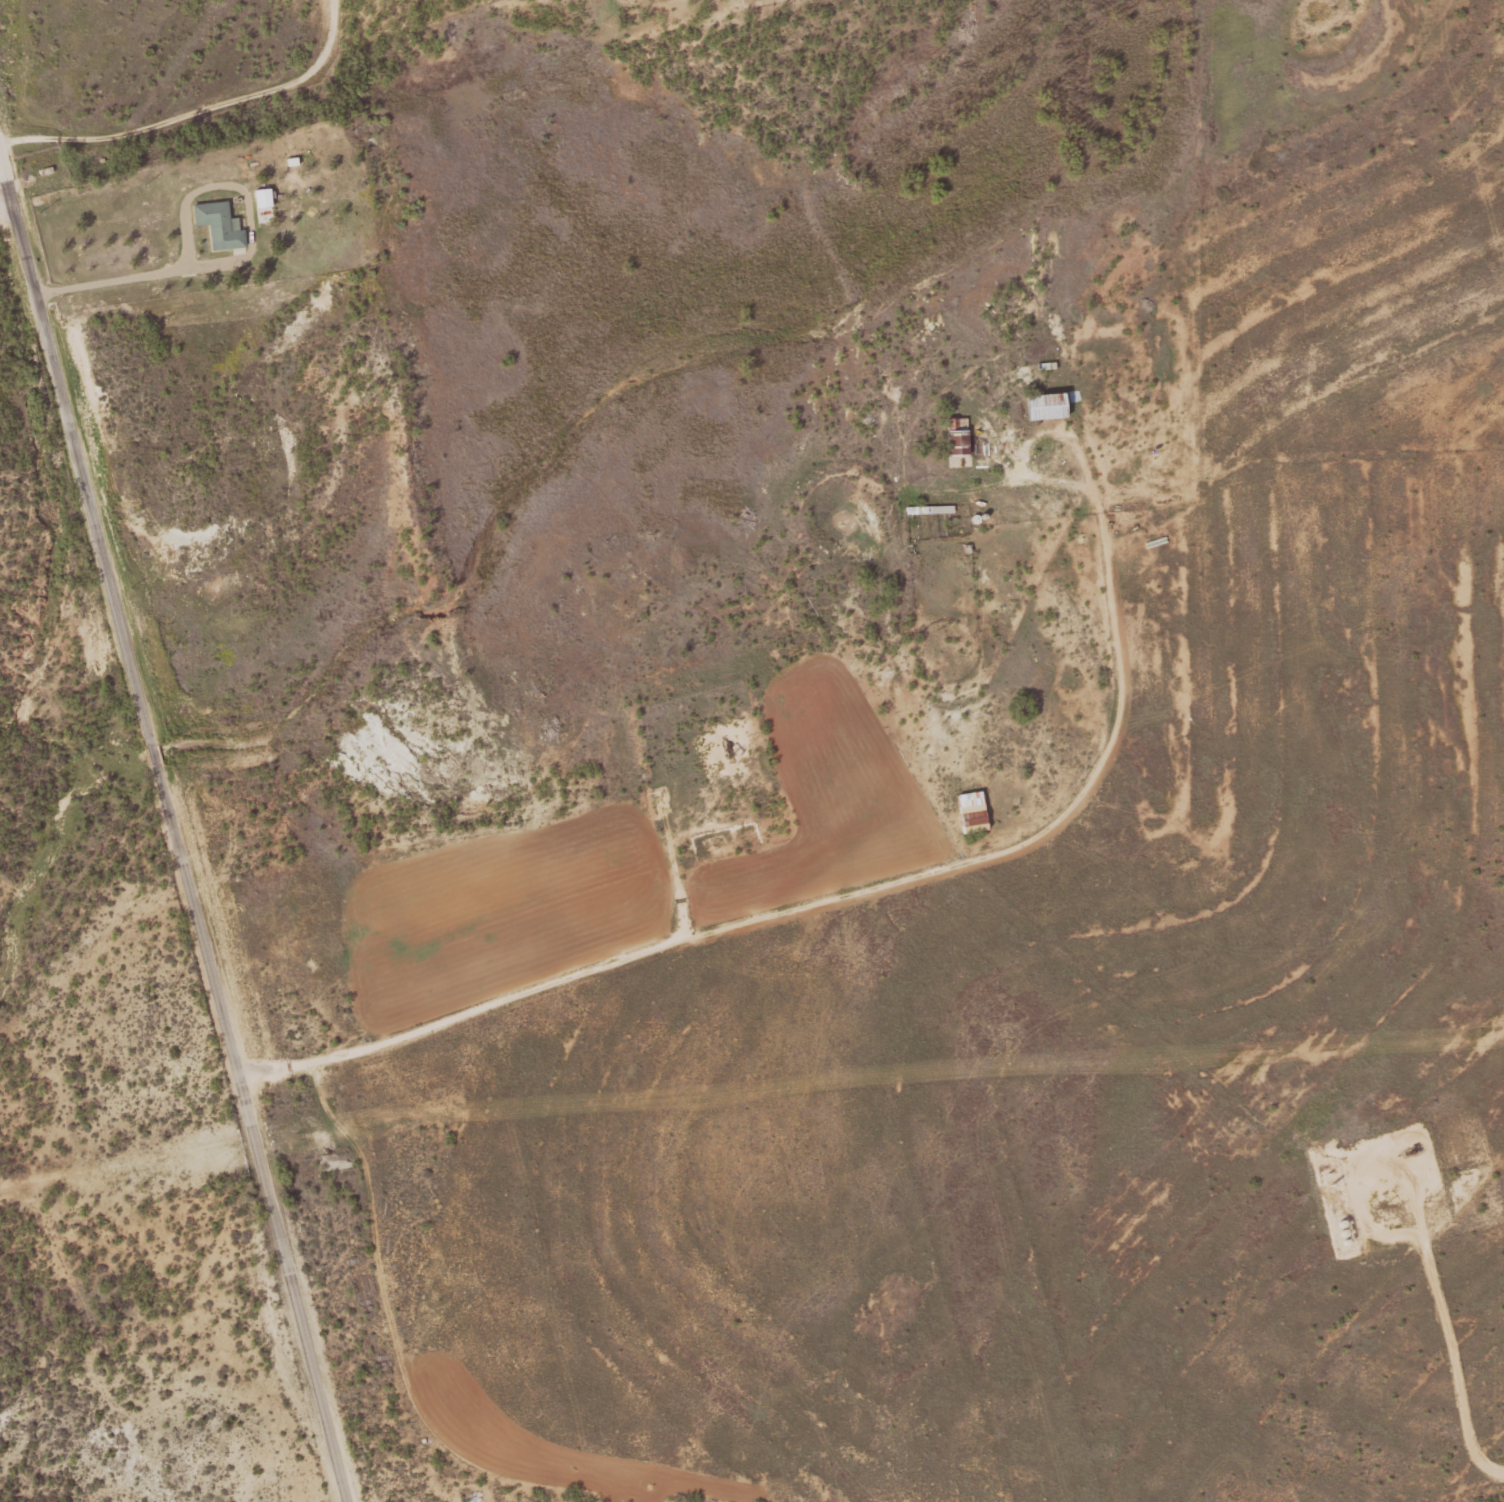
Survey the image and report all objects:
road: (194, 112)
road: (6, 203)
building: (221, 225)
building: (1050, 406)
building: (959, 436)
building: (929, 508)
building: (973, 812)
road: (174, 826)
road: (916, 875)

